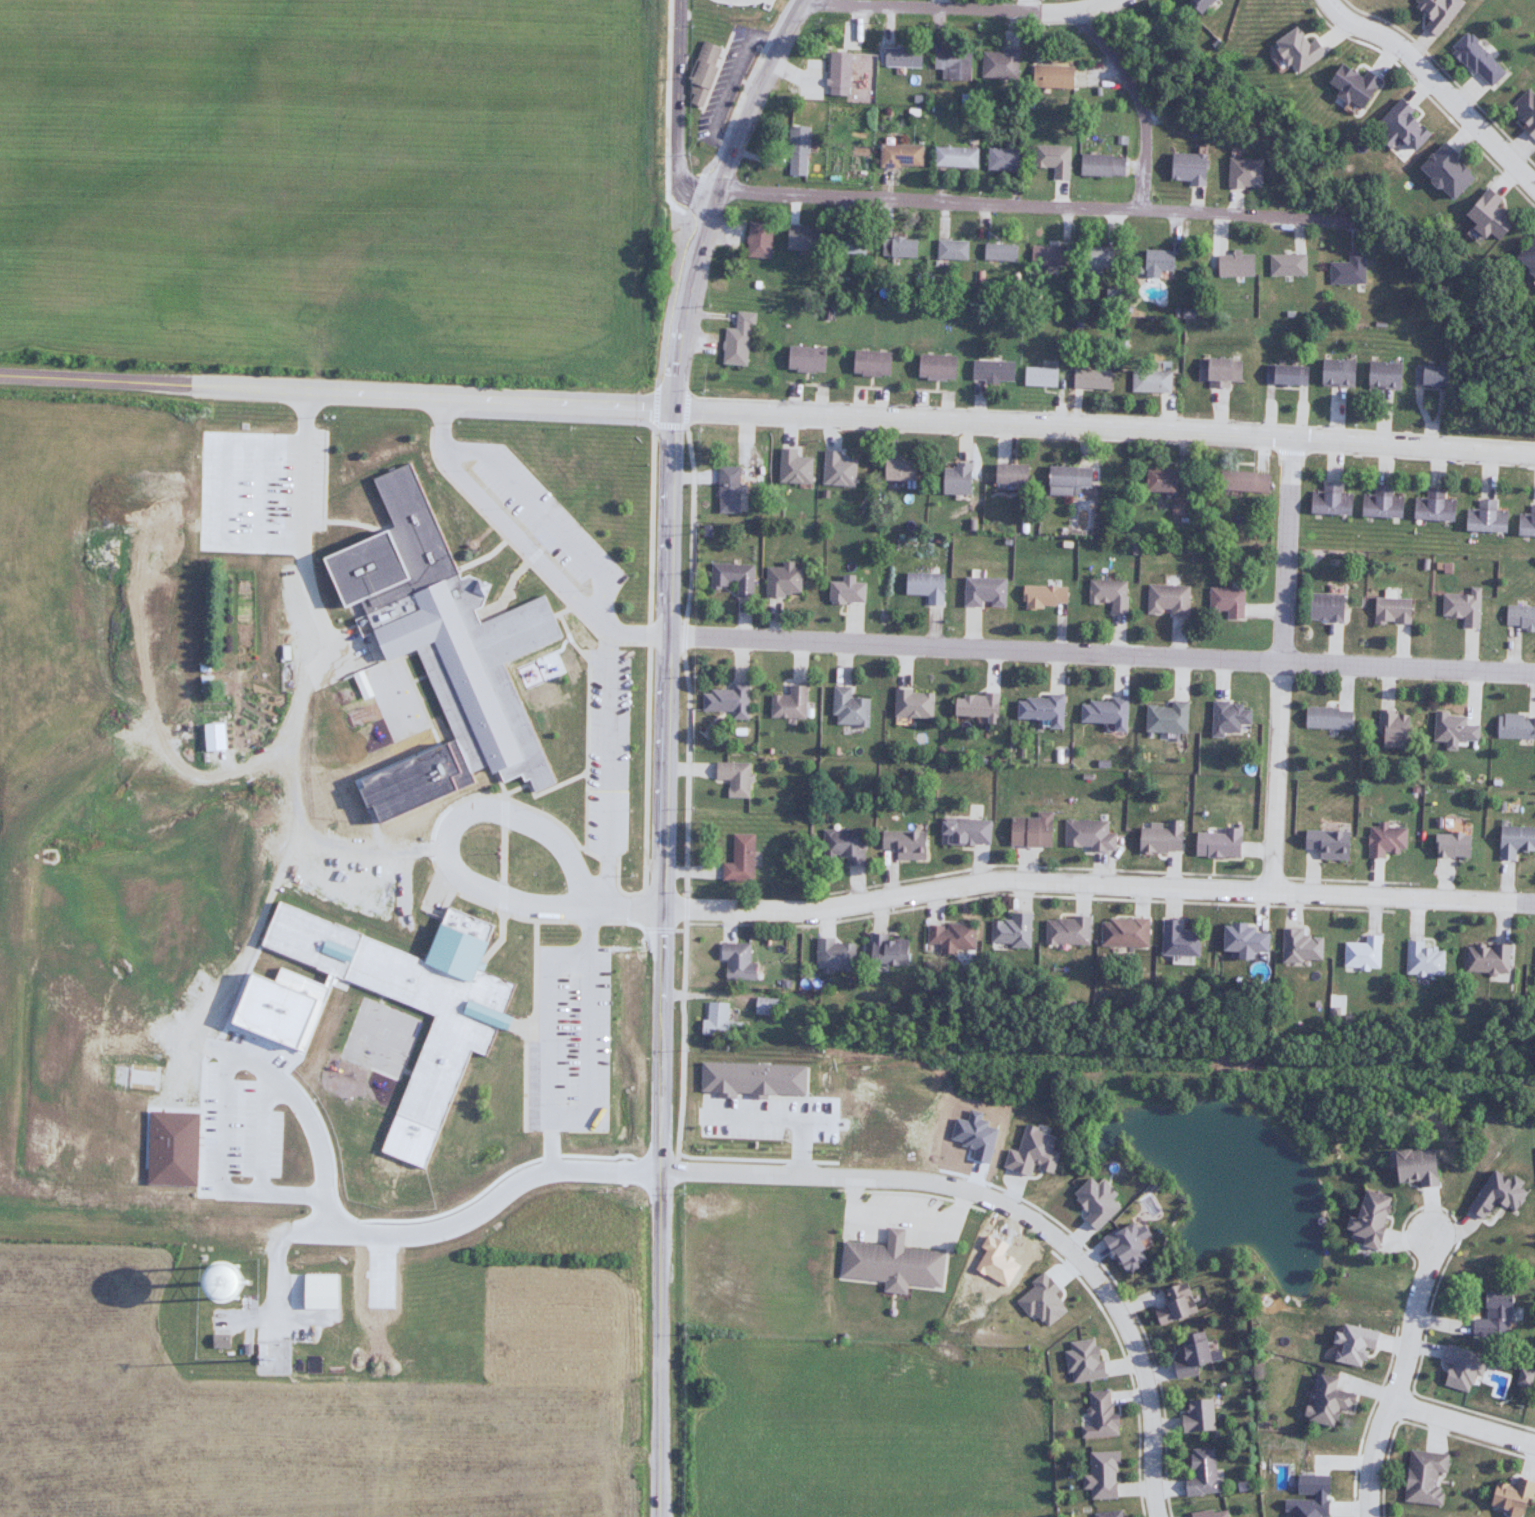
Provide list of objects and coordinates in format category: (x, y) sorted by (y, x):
building: (1193, 4)
road: (957, 8)
building: (1434, 13)
building: (1293, 50)
building: (899, 57)
building: (1474, 60)
building: (950, 63)
building: (998, 64)
building: (835, 73)
road: (1446, 73)
building: (700, 74)
building: (1049, 77)
road: (1436, 85)
building: (1348, 86)
parking lot: (726, 89)
road: (752, 94)
road: (1429, 98)
road: (1140, 102)
road: (675, 109)
building: (1523, 113)
building: (1399, 126)
building: (797, 150)
building: (898, 156)
building: (952, 157)
building: (1001, 159)
building: (1050, 159)
building: (1091, 165)
building: (1183, 168)
building: (1442, 172)
building: (1242, 173)
road: (925, 201)
road: (1225, 214)
building: (1484, 216)
building: (799, 238)
building: (757, 242)
building: (846, 244)
building: (896, 247)
building: (949, 250)
building: (996, 252)
building: (1526, 256)
building: (1044, 257)
building: (1094, 261)
building: (1153, 263)
building: (1346, 270)
building: (735, 340)
building: (802, 359)
building: (868, 363)
building: (933, 367)
building: (990, 371)
building: (1217, 371)
building: (1332, 373)
building: (1283, 375)
building: (1378, 375)
building: (1429, 376)
building: (1037, 377)
building: (1088, 379)
building: (1147, 381)
road: (654, 404)
road: (685, 407)
road: (767, 411)
road: (1109, 414)
road: (669, 425)
road: (980, 433)
road: (1291, 451)
road: (1419, 458)
building: (896, 470)
building: (1007, 474)
building: (954, 479)
building: (1064, 480)
building: (1155, 480)
building: (1239, 482)
building: (723, 489)
parking lot: (246, 491)
building: (1328, 500)
building: (1379, 503)
building: (1177, 507)
building: (1430, 507)
road: (543, 514)
parking lot: (540, 516)
building: (1481, 518)
building: (1525, 523)
road: (691, 530)
road: (525, 543)
road: (1285, 548)
road: (524, 559)
building: (731, 577)
building: (780, 581)
building: (923, 587)
building: (844, 592)
building: (981, 593)
building: (1106, 595)
building: (1041, 597)
building: (1164, 600)
building: (1223, 602)
building: (1322, 608)
building: (1460, 608)
building: (1389, 612)
building: (1518, 616)
road: (1101, 651)
building: (439, 652)
road: (648, 680)
building: (726, 700)
building: (786, 704)
building: (910, 704)
building: (973, 707)
building: (846, 708)
building: (1037, 710)
building: (1101, 713)
building: (1225, 717)
building: (1162, 718)
building: (1325, 718)
building: (1514, 726)
building: (1451, 727)
building: (1390, 729)
road: (582, 744)
parking lot: (603, 754)
road: (684, 765)
road: (605, 768)
road: (1275, 775)
building: (731, 777)
road: (686, 778)
building: (961, 831)
building: (1028, 831)
building: (1085, 836)
building: (1158, 839)
building: (1383, 841)
building: (1513, 841)
building: (902, 844)
building: (1214, 844)
building: (1324, 844)
road: (367, 845)
building: (841, 846)
building: (1447, 846)
road: (289, 847)
road: (1259, 847)
road: (665, 852)
building: (737, 860)
road: (1026, 865)
road: (976, 867)
road: (1108, 868)
road: (1170, 870)
road: (688, 871)
road: (1102, 871)
road: (1312, 874)
road: (890, 875)
parking lot: (351, 878)
road: (1372, 879)
road: (1504, 879)
road: (1444, 880)
road: (1098, 883)
road: (856, 889)
road: (1021, 891)
road: (1081, 895)
road: (1139, 899)
road: (1170, 903)
road: (634, 904)
road: (910, 904)
road: (933, 905)
road: (514, 907)
road: (1260, 908)
road: (1292, 908)
road: (878, 910)
road: (1371, 913)
road: (1414, 916)
road: (825, 920)
road: (1502, 920)
road: (727, 922)
building: (1009, 931)
building: (1064, 931)
building: (1121, 932)
building: (949, 938)
building: (1239, 939)
road: (532, 940)
building: (1174, 940)
building: (1297, 947)
building: (886, 951)
building: (1359, 953)
building: (832, 956)
building: (1483, 960)
building: (735, 961)
building: (1421, 961)
road: (680, 995)
building: (763, 1006)
building: (714, 1020)
building: (459, 1036)
parking lot: (572, 1040)
road: (545, 1042)
road: (523, 1071)
parking lot: (240, 1106)
building: (1411, 1168)
building: (1493, 1195)
road: (1014, 1214)
building: (1364, 1220)
road: (439, 1227)
building: (891, 1263)
building: (1171, 1306)
building: (1491, 1316)
water tower: (215, 1328)
building: (216, 1342)
building: (1349, 1344)
building: (1186, 1355)
road: (1405, 1382)
building: (1323, 1401)
building: (1097, 1415)
building: (1195, 1415)
road: (1465, 1430)
building: (1199, 1472)
building: (1099, 1474)
building: (1421, 1477)
building: (1508, 1497)
building: (1304, 1507)
building: (1107, 1513)
building: (1208, 1513)

